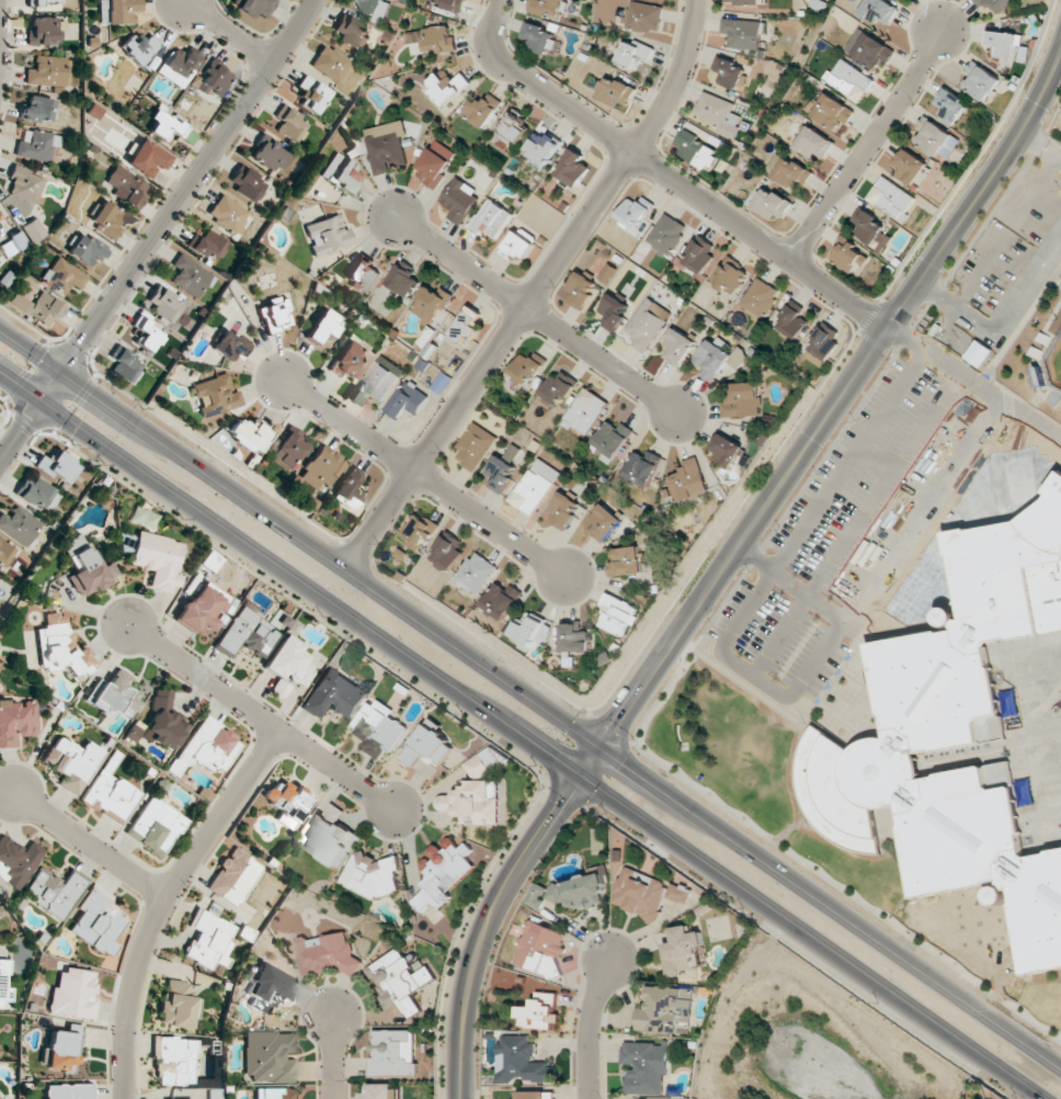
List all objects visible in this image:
building: (43, 1)
building: (748, 2)
building: (453, 4)
building: (996, 4)
building: (255, 5)
building: (545, 5)
building: (375, 9)
building: (119, 11)
building: (879, 11)
building: (643, 16)
building: (44, 30)
road: (229, 32)
building: (744, 33)
building: (537, 37)
building: (432, 38)
building: (1003, 42)
building: (138, 47)
building: (869, 48)
building: (634, 54)
building: (331, 64)
building: (179, 66)
building: (48, 71)
building: (730, 73)
building: (214, 79)
building: (849, 79)
building: (980, 81)
building: (447, 87)
building: (615, 92)
building: (311, 93)
building: (950, 105)
building: (37, 110)
building: (482, 110)
building: (832, 112)
building: (717, 113)
building: (288, 123)
building: (166, 126)
building: (513, 131)
building: (936, 138)
building: (813, 143)
building: (36, 145)
building: (386, 146)
building: (541, 147)
road: (1040, 148)
road: (864, 149)
building: (697, 150)
building: (270, 154)
building: (147, 158)
building: (435, 163)
building: (910, 166)
building: (573, 168)
building: (791, 172)
building: (340, 173)
road: (665, 174)
building: (246, 183)
building: (25, 185)
building: (125, 185)
building: (892, 199)
building: (459, 200)
building: (772, 204)
building: (635, 211)
building: (228, 213)
building: (491, 218)
building: (105, 219)
road: (158, 229)
building: (33, 230)
building: (871, 230)
building: (666, 234)
building: (327, 235)
building: (18, 240)
building: (207, 243)
building: (520, 243)
building: (85, 249)
building: (699, 256)
building: (848, 257)
building: (363, 274)
building: (62, 275)
building: (191, 276)
building: (730, 276)
building: (404, 281)
road: (535, 291)
building: (581, 291)
building: (760, 298)
building: (432, 303)
building: (162, 304)
building: (37, 307)
building: (612, 311)
building: (275, 315)
road: (536, 316)
building: (791, 320)
building: (467, 324)
building: (648, 324)
building: (323, 326)
road: (1004, 326)
road: (937, 329)
building: (148, 335)
building: (824, 342)
building: (229, 345)
building: (677, 347)
road: (976, 353)
building: (718, 358)
building: (350, 361)
building: (124, 364)
building: (527, 369)
building: (379, 379)
building: (442, 383)
building: (560, 387)
building: (215, 396)
building: (408, 400)
building: (742, 400)
road: (837, 400)
building: (585, 411)
building: (250, 434)
building: (611, 441)
building: (475, 445)
building: (288, 449)
building: (727, 450)
building: (58, 467)
building: (320, 467)
building: (642, 467)
building: (501, 471)
road: (418, 476)
building: (689, 480)
building: (535, 486)
building: (352, 488)
building: (38, 495)
building: (563, 510)
road: (920, 514)
building: (141, 518)
building: (603, 522)
building: (19, 525)
building: (419, 531)
road: (299, 535)
building: (447, 552)
building: (4, 553)
building: (156, 559)
building: (626, 562)
building: (85, 567)
building: (477, 573)
building: (502, 600)
building: (202, 607)
building: (619, 615)
building: (532, 632)
building: (247, 633)
building: (575, 637)
building: (59, 646)
building: (288, 665)
road: (752, 677)
building: (113, 695)
building: (333, 695)
road: (255, 718)
building: (16, 722)
building: (162, 722)
building: (379, 728)
building: (956, 735)
road: (521, 737)
building: (427, 744)
traffic signals: (600, 744)
building: (205, 748)
building: (73, 760)
building: (484, 762)
traffic signals: (578, 777)
building: (111, 792)
building: (287, 801)
building: (474, 802)
building: (155, 826)
building: (330, 836)
road: (89, 846)
building: (16, 861)
building: (443, 872)
building: (372, 875)
building: (233, 876)
building: (54, 891)
building: (570, 893)
building: (639, 893)
building: (678, 893)
road: (162, 902)
road: (830, 904)
road: (493, 908)
building: (96, 920)
building: (209, 940)
building: (541, 948)
building: (683, 950)
building: (326, 954)
building: (398, 981)
building: (1, 982)
building: (269, 988)
building: (73, 994)
building: (178, 1005)
building: (540, 1011)
road: (590, 1027)
building: (61, 1049)
building: (393, 1053)
building: (269, 1056)
road: (333, 1056)
building: (174, 1061)
building: (521, 1061)
building: (646, 1067)
building: (68, 1091)
building: (381, 1091)
building: (274, 1094)
building: (536, 1095)
building: (0, 1098)

